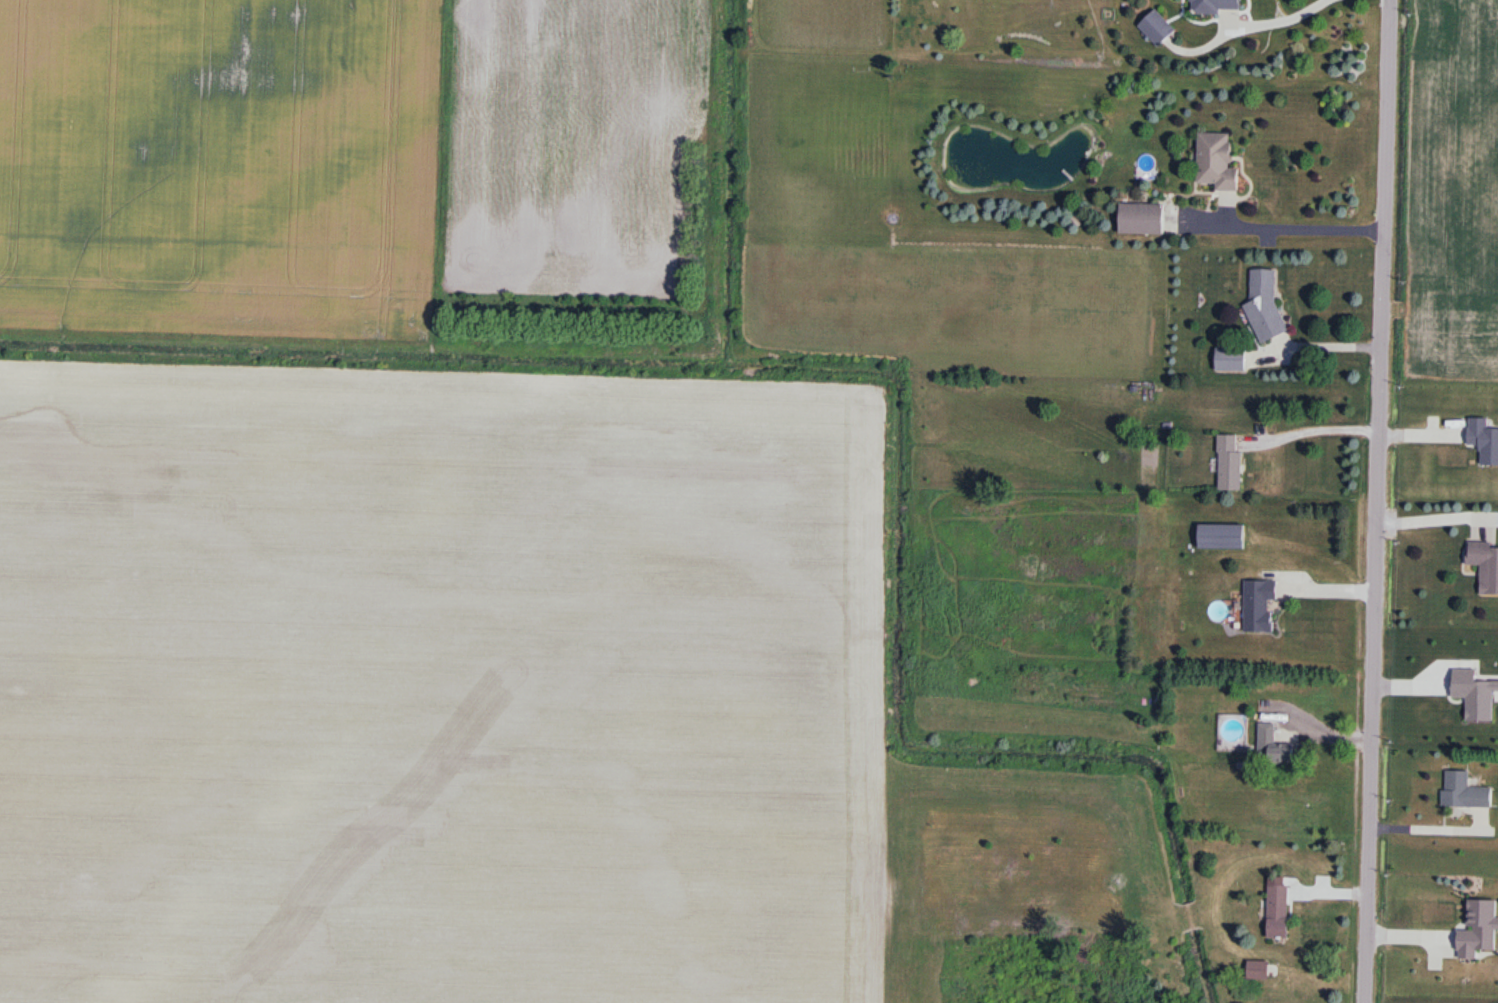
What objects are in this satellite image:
building: (1217, 6)
road: (1264, 16)
building: (1157, 29)
building: (1216, 163)
road: (1280, 218)
building: (1141, 220)
building: (1265, 306)
road: (1316, 346)
building: (1230, 360)
road: (1310, 432)
building: (1229, 463)
road: (1376, 501)
road: (1438, 518)
building: (1221, 536)
building: (1485, 565)
road: (1318, 590)
building: (1259, 604)
building: (1274, 746)
building: (1464, 792)
road: (1431, 829)
building: (1278, 912)

